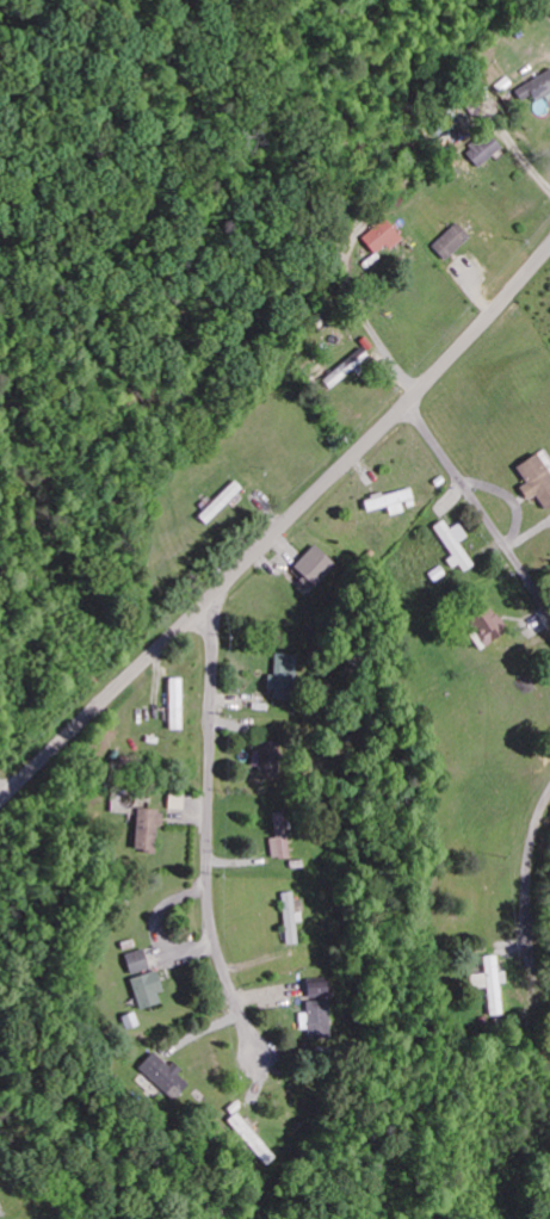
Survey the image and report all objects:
building: (536, 88)
building: (487, 151)
building: (383, 239)
building: (451, 242)
road: (360, 326)
building: (346, 370)
building: (536, 482)
building: (390, 502)
building: (221, 503)
road: (478, 503)
road: (279, 528)
building: (456, 546)
building: (314, 568)
building: (484, 623)
building: (283, 676)
building: (175, 705)
building: (265, 757)
building: (147, 833)
road: (209, 837)
building: (279, 840)
road: (530, 897)
building: (290, 921)
building: (137, 964)
building: (489, 985)
building: (147, 991)
building: (315, 1013)
building: (163, 1076)

